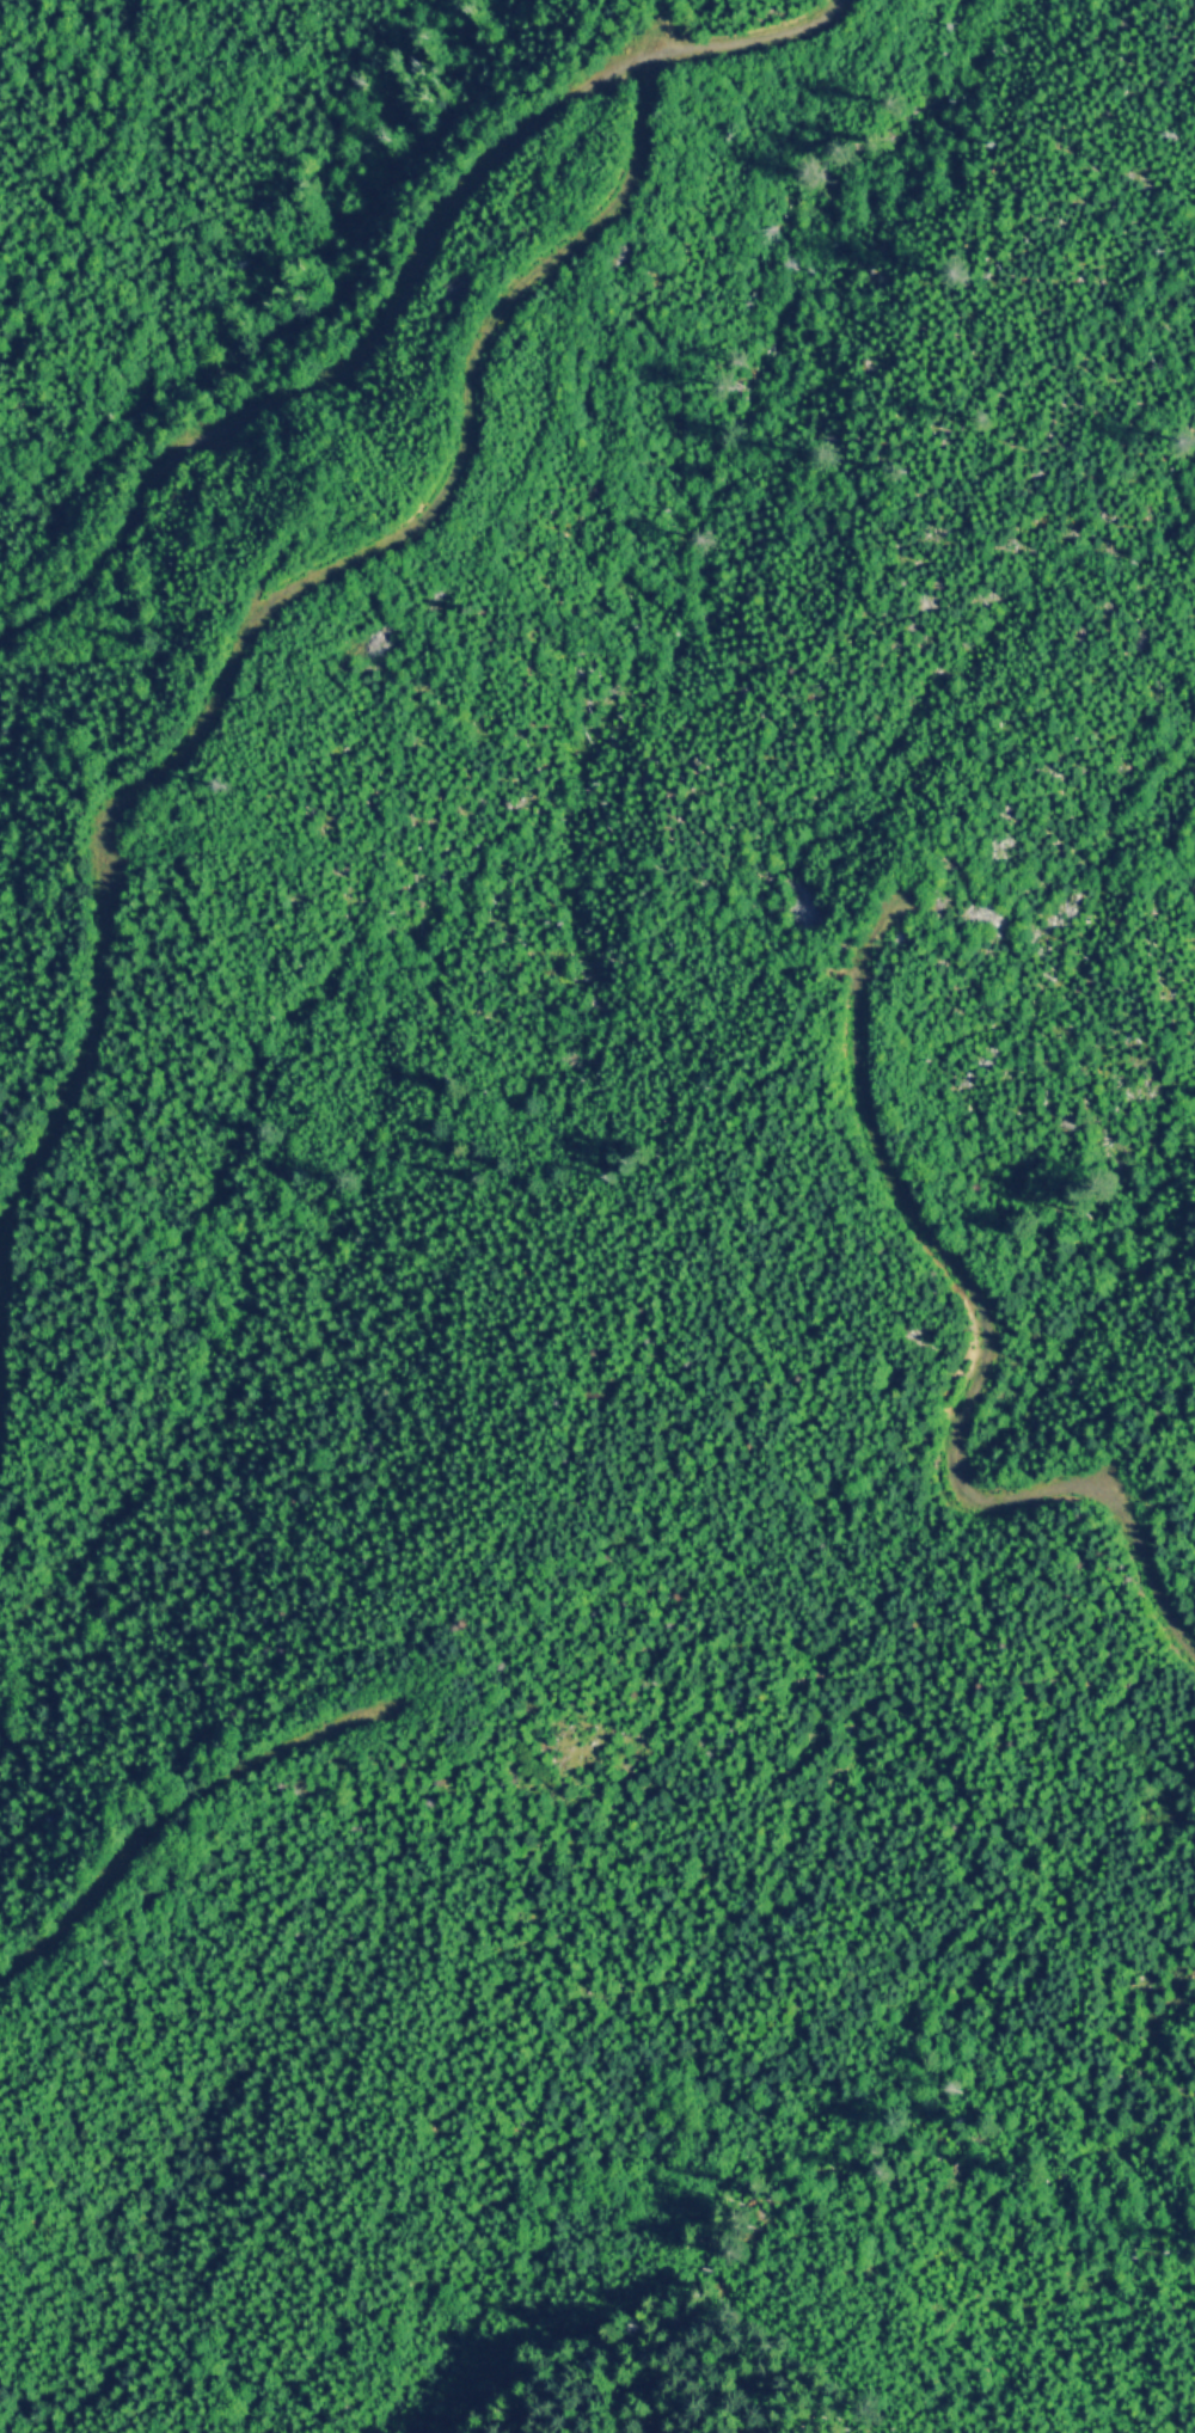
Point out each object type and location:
road: (407, 292)
road: (251, 625)
road: (986, 1332)
road: (188, 1808)

